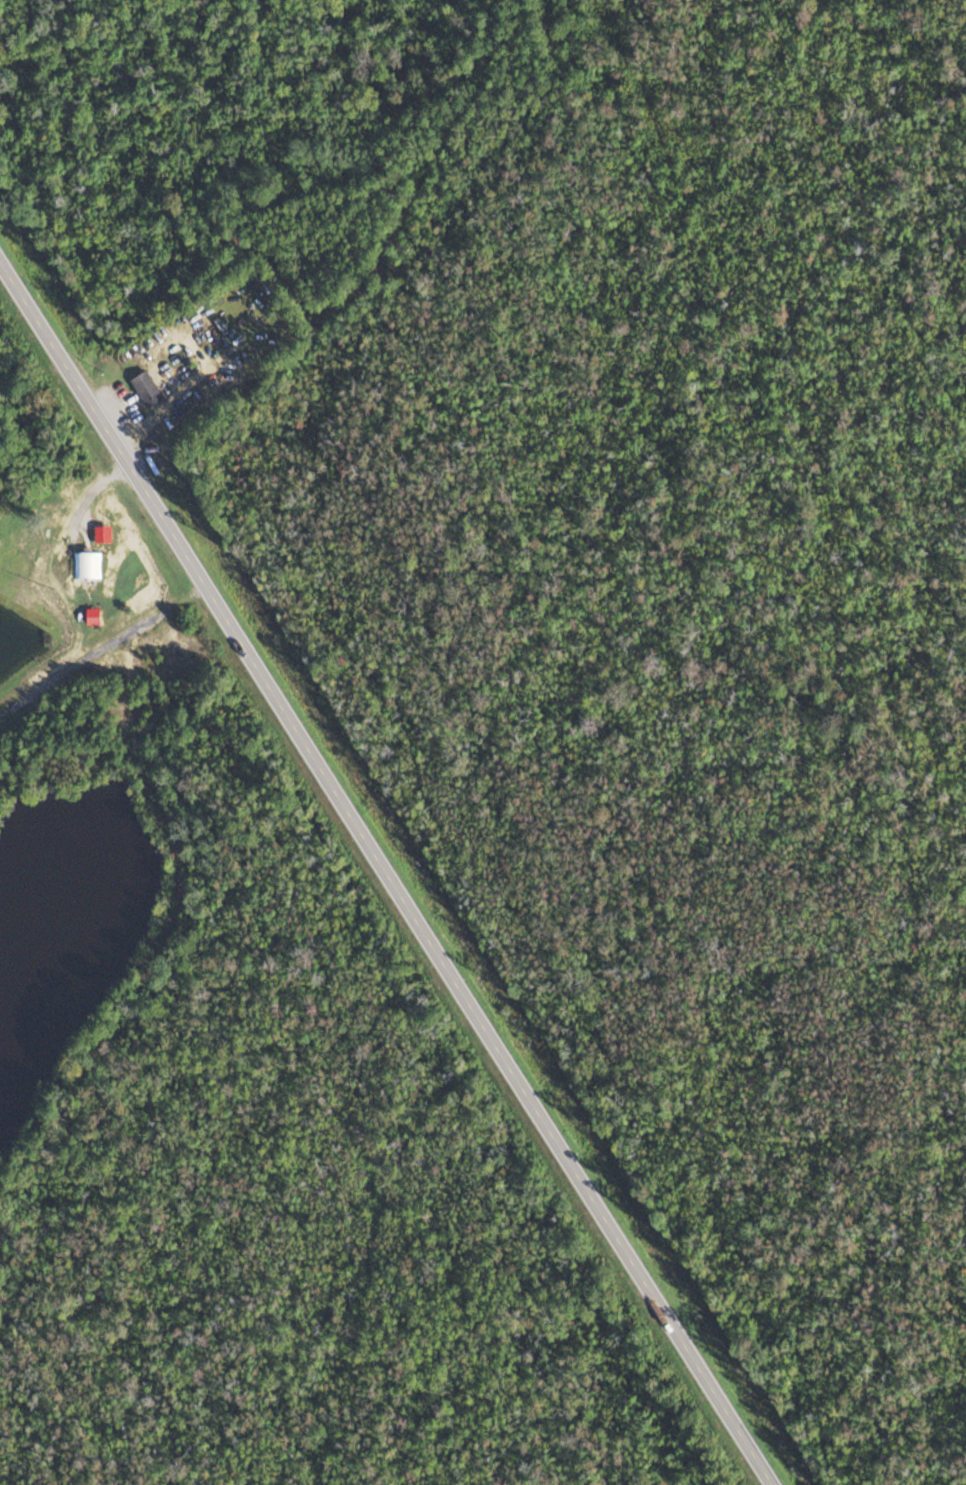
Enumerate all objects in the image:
road: (313, 249)
building: (146, 390)
road: (94, 495)
building: (87, 567)
road: (384, 871)

